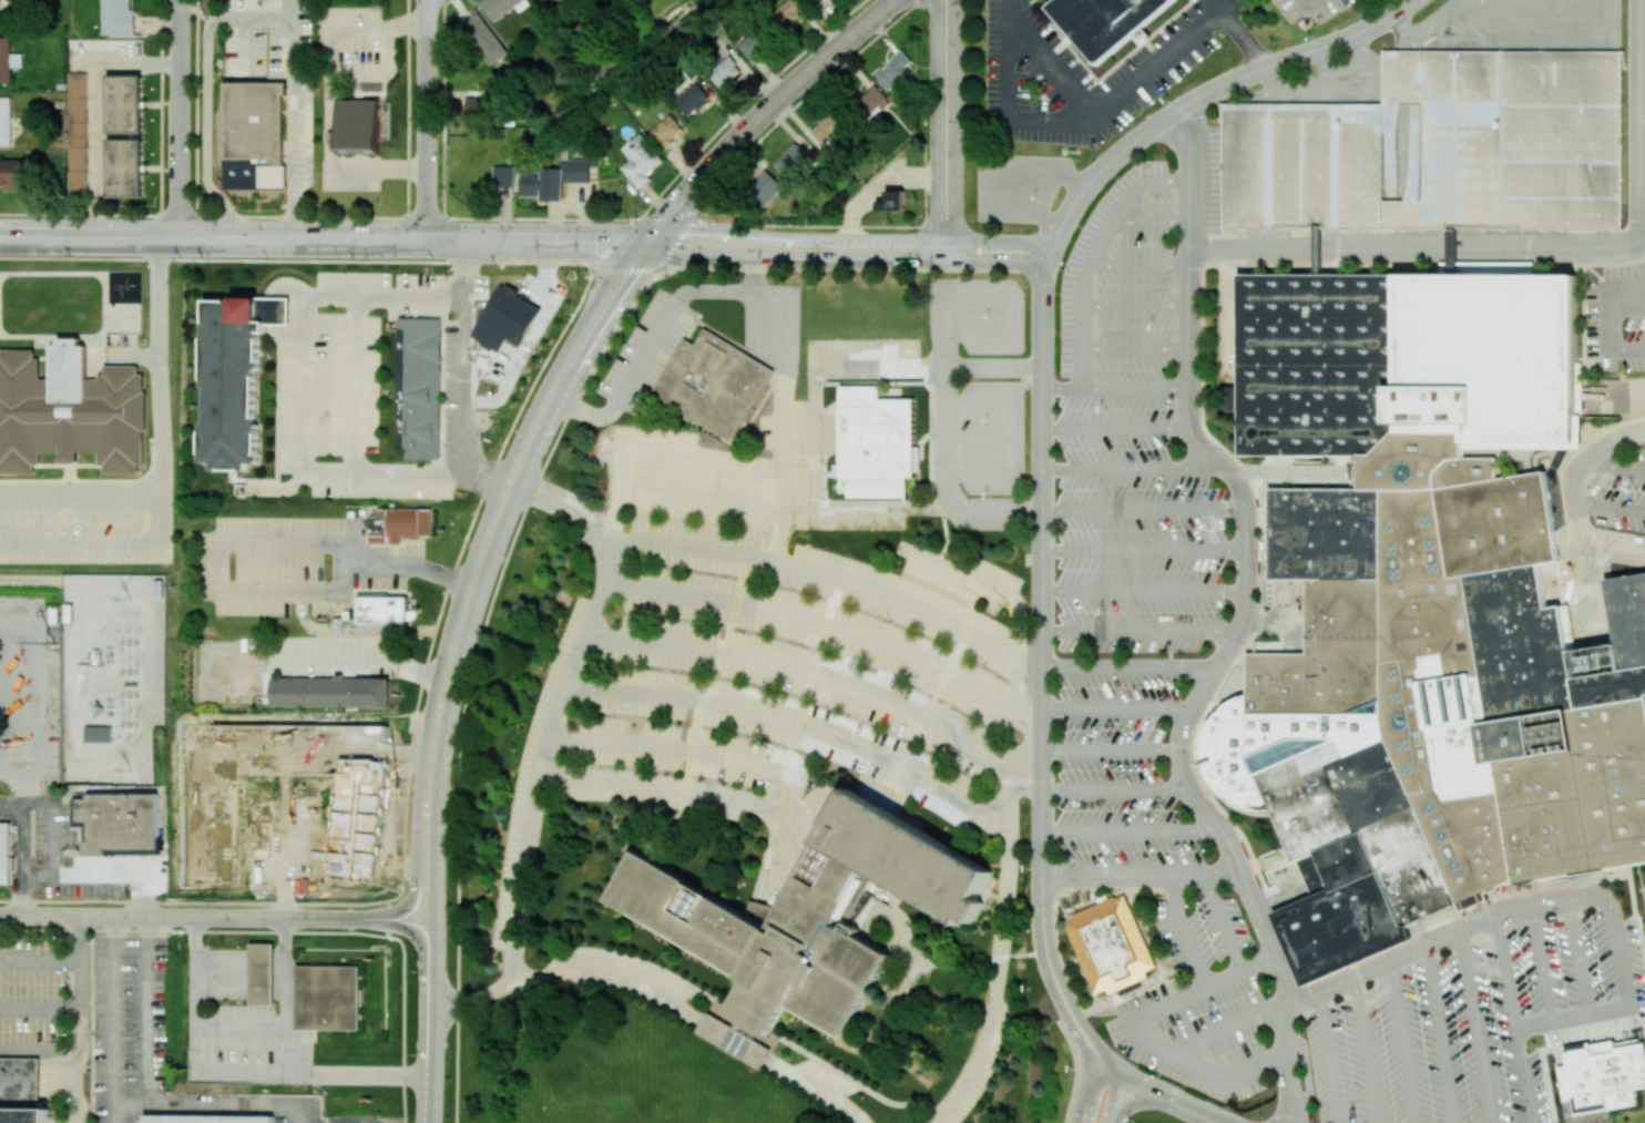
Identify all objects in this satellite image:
building: (818, 0)
road: (429, 1)
road: (1309, 1)
building: (499, 7)
building: (786, 14)
building: (0, 16)
building: (117, 18)
road: (284, 19)
building: (1105, 22)
road: (1404, 22)
road: (1435, 22)
parking lot: (1534, 22)
road: (1482, 24)
road: (1522, 24)
road: (1561, 24)
road: (1602, 24)
road: (355, 28)
road: (1445, 31)
road: (1240, 34)
building: (484, 39)
road: (1406, 42)
building: (754, 45)
road: (1306, 52)
road: (1422, 58)
road: (1501, 58)
road: (1578, 58)
building: (4, 60)
road: (1362, 67)
building: (893, 71)
building: (724, 72)
road: (1325, 74)
road: (1275, 83)
parking lot: (1330, 83)
road: (1401, 86)
building: (692, 99)
building: (870, 102)
building: (124, 103)
building: (473, 105)
road: (1100, 105)
road: (96, 108)
road: (1011, 110)
road: (1261, 110)
road: (1641, 110)
road: (1334, 111)
road: (764, 113)
road: (182, 119)
road: (428, 120)
building: (4, 121)
building: (359, 124)
road: (330, 125)
building: (829, 127)
road: (206, 130)
road: (937, 130)
road: (957, 130)
building: (667, 131)
road: (1194, 132)
building: (76, 133)
building: (254, 134)
road: (1443, 137)
road: (1482, 137)
road: (1521, 137)
road: (1181, 139)
road: (1560, 139)
road: (1598, 140)
building: (1437, 147)
parking lot: (1437, 147)
road: (296, 156)
road: (1389, 156)
building: (640, 161)
road: (1413, 161)
building: (793, 162)
road: (1112, 162)
road: (1280, 163)
road: (1319, 164)
road: (1358, 164)
road: (1242, 165)
building: (124, 167)
road: (380, 169)
building: (13, 174)
building: (503, 175)
building: (552, 178)
parking lot: (1206, 178)
road: (1165, 183)
building: (764, 188)
building: (893, 202)
road: (1123, 205)
road: (1136, 206)
road: (1193, 207)
road: (1345, 217)
road: (1484, 218)
road: (1260, 221)
road: (1578, 223)
road: (1127, 224)
road: (1168, 224)
road: (1246, 238)
road: (1285, 238)
road: (1325, 238)
road: (1360, 238)
road: (1394, 238)
road: (1438, 238)
road: (1482, 238)
road: (1521, 238)
road: (1560, 238)
road: (1600, 238)
road: (323, 239)
traffic signals: (647, 242)
road: (849, 242)
road: (1418, 247)
road: (1051, 251)
building: (1312, 252)
building: (1448, 253)
road: (846, 258)
road: (1048, 261)
road: (1138, 266)
road: (1616, 286)
road: (1083, 303)
road: (1137, 307)
building: (514, 308)
road: (1626, 308)
road: (1229, 315)
parking lot: (1617, 317)
road: (1192, 319)
road: (1043, 328)
road: (648, 345)
road: (1608, 347)
road: (1137, 350)
parking lot: (962, 359)
building: (1482, 359)
building: (1318, 365)
road: (879, 369)
road: (467, 375)
building: (232, 376)
building: (713, 382)
road: (358, 386)
road: (306, 389)
road: (1063, 389)
road: (1137, 389)
building: (420, 390)
parking lot: (979, 391)
road: (1611, 397)
building: (1227, 398)
road: (781, 407)
building: (70, 410)
road: (1117, 428)
road: (944, 438)
parking lot: (1133, 438)
building: (879, 447)
road: (654, 451)
road: (1594, 451)
road: (1264, 464)
road: (155, 466)
road: (1616, 466)
road: (1226, 467)
road: (1131, 468)
road: (1043, 470)
building: (1556, 483)
road: (78, 488)
road: (532, 493)
parking lot: (1622, 493)
road: (701, 499)
road: (815, 502)
road: (1610, 507)
road: (1146, 509)
road: (1580, 522)
road: (586, 523)
building: (400, 527)
road: (492, 532)
road: (249, 543)
road: (1614, 548)
road: (1146, 551)
road: (1585, 560)
road: (1043, 571)
road: (1250, 571)
road: (451, 575)
road: (831, 578)
road: (1569, 581)
road: (1146, 591)
power tower: (130, 596)
road: (1290, 603)
road: (1593, 609)
building: (384, 613)
road: (1268, 622)
road: (831, 630)
road: (1141, 632)
road: (1291, 639)
building: (1266, 646)
parking lot: (760, 654)
road: (360, 661)
road: (1130, 667)
power substation: (112, 677)
road: (815, 677)
road: (42, 690)
building: (330, 692)
building: (1420, 701)
road: (1116, 707)
road: (797, 723)
road: (1183, 733)
building: (98, 734)
road: (1111, 752)
road: (747, 763)
power tower: (130, 774)
parking lot: (1116, 776)
building: (1613, 780)
road: (537, 786)
road: (665, 786)
building: (319, 788)
road: (215, 789)
road: (1115, 789)
road: (28, 793)
road: (805, 806)
road: (13, 811)
building: (119, 821)
road: (1132, 830)
road: (1042, 834)
building: (4, 853)
road: (27, 862)
road: (1264, 865)
road: (1142, 876)
road: (284, 888)
road: (415, 891)
road: (1285, 894)
road: (432, 911)
road: (229, 916)
building: (809, 916)
road: (1225, 922)
road: (193, 930)
parking lot: (1200, 931)
road: (1183, 932)
road: (1444, 936)
road: (1271, 937)
road: (1000, 943)
building: (1108, 947)
road: (1618, 952)
road: (1577, 957)
road: (40, 958)
road: (1263, 961)
road: (1541, 963)
building: (260, 973)
road: (662, 997)
building: (328, 998)
road: (80, 1000)
road: (402, 1007)
parking lot: (1472, 1011)
road: (1570, 1017)
road: (1512, 1019)
road: (237, 1027)
road: (1229, 1027)
road: (1474, 1027)
parking lot: (1197, 1034)
road: (1438, 1034)
road: (192, 1039)
building: (735, 1039)
road: (1144, 1041)
road: (1402, 1042)
road: (430, 1045)
road: (1366, 1050)
road: (62, 1051)
road: (1329, 1058)
road: (1287, 1063)
road: (284, 1065)
road: (1111, 1065)
road: (1306, 1070)
building: (1603, 1076)
building: (19, 1079)
road: (78, 1086)
road: (1091, 1090)
road: (1151, 1090)
road: (1108, 1096)
road: (1146, 1102)
building: (13, 1103)
road: (132, 1107)
building: (24, 1115)
road: (1203, 1115)
road: (116, 1116)
building: (210, 1120)

